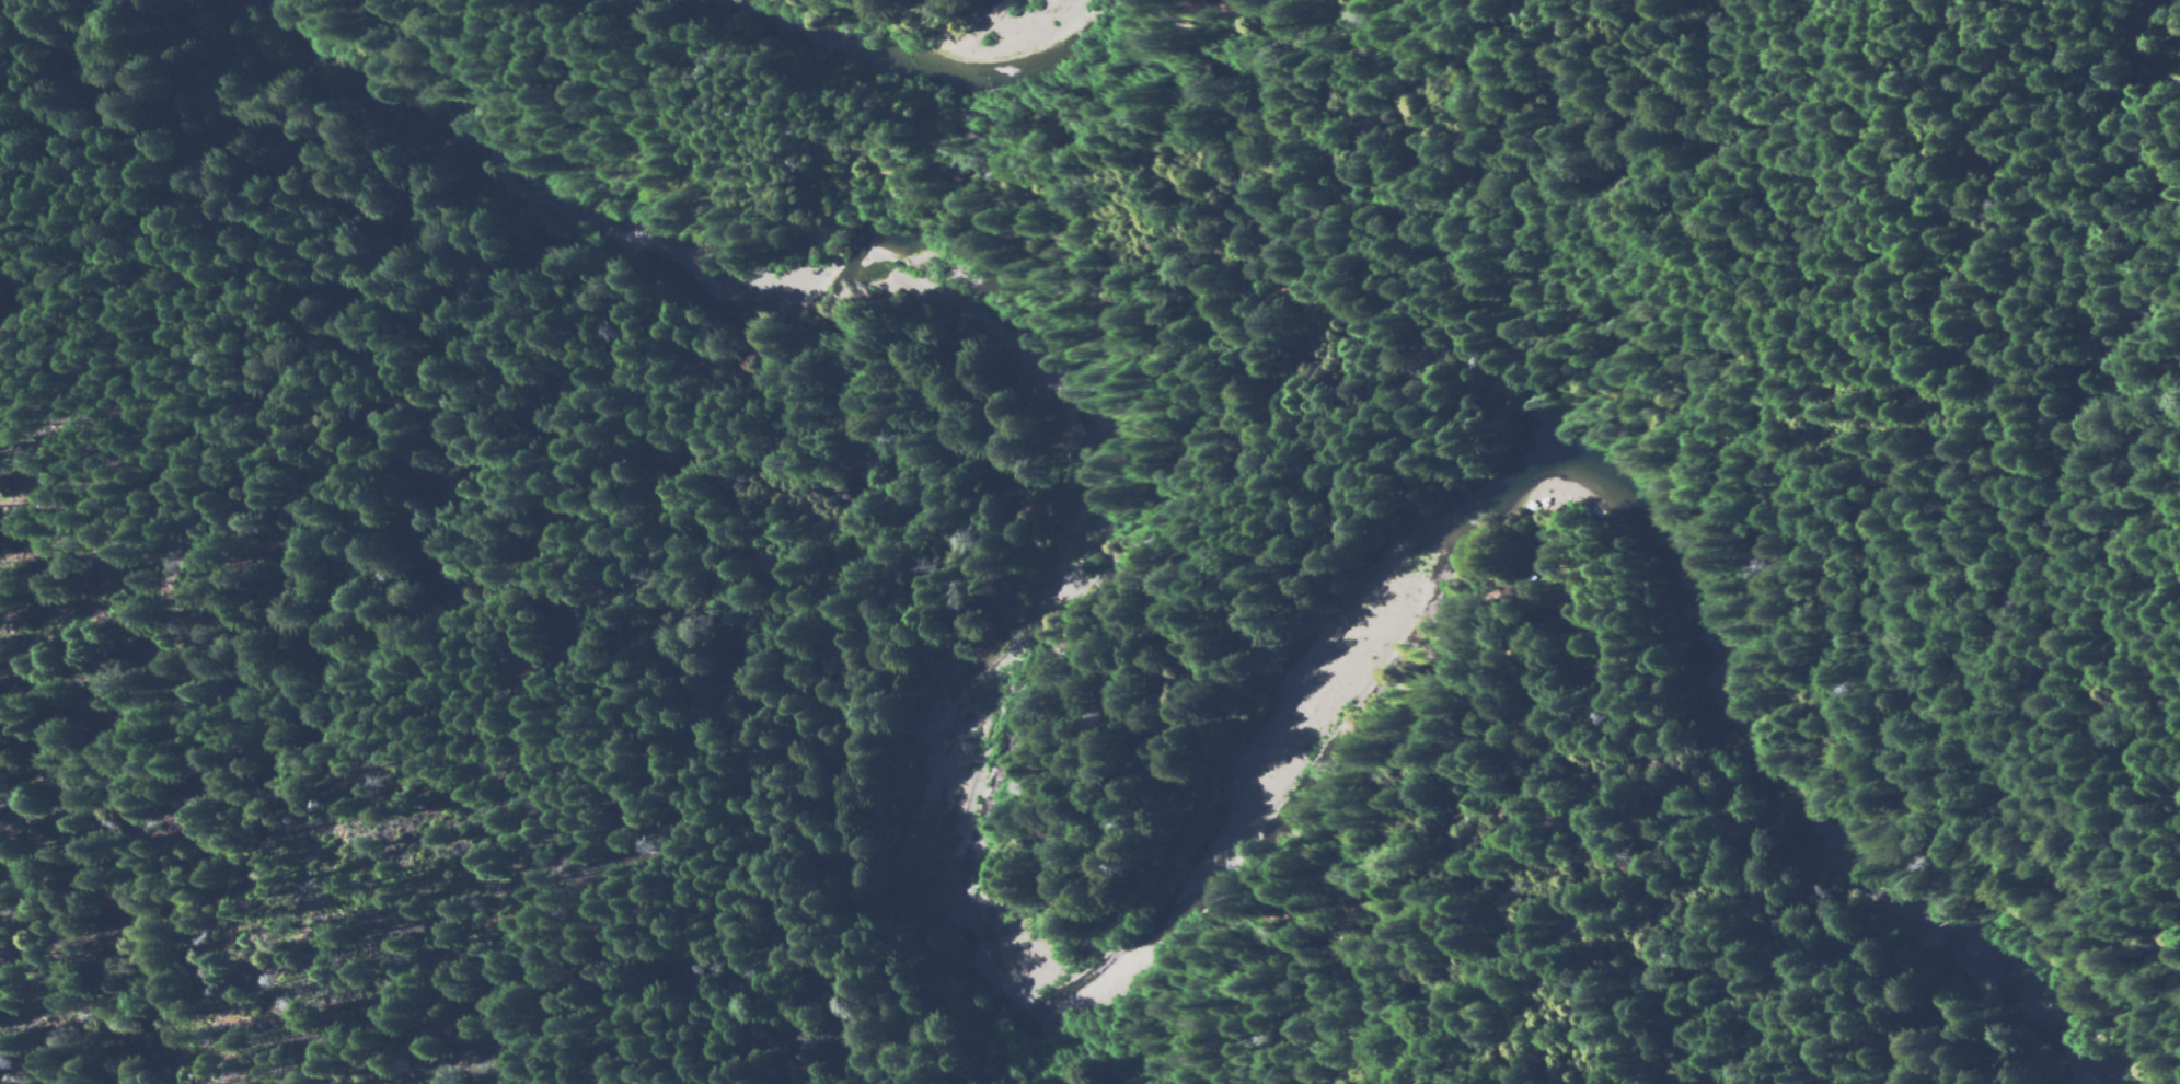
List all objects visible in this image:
river: (936, 62)
river: (1054, 1041)

